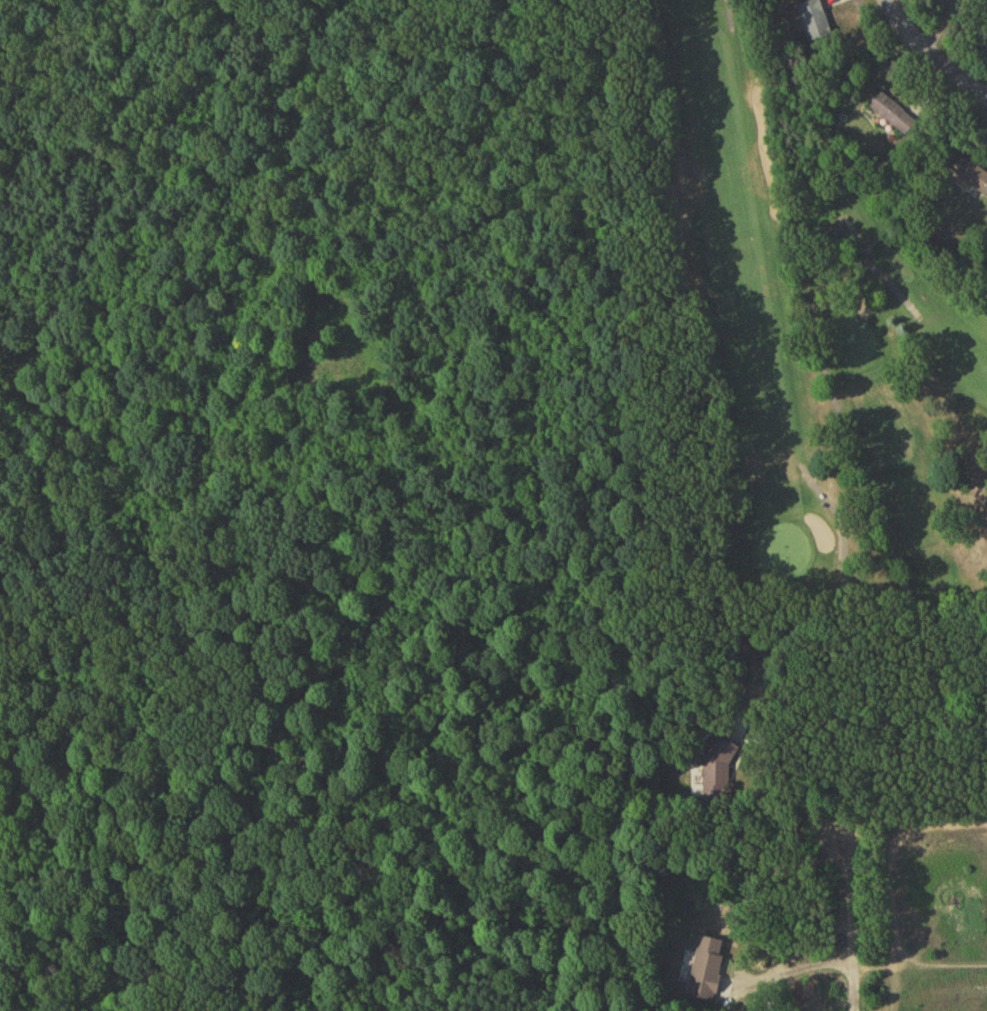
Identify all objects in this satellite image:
building: (816, 22)
road: (932, 50)
building: (894, 115)
building: (974, 177)
park: (836, 289)
road: (839, 717)
building: (719, 772)
road: (859, 921)
road: (799, 951)
building: (709, 972)

